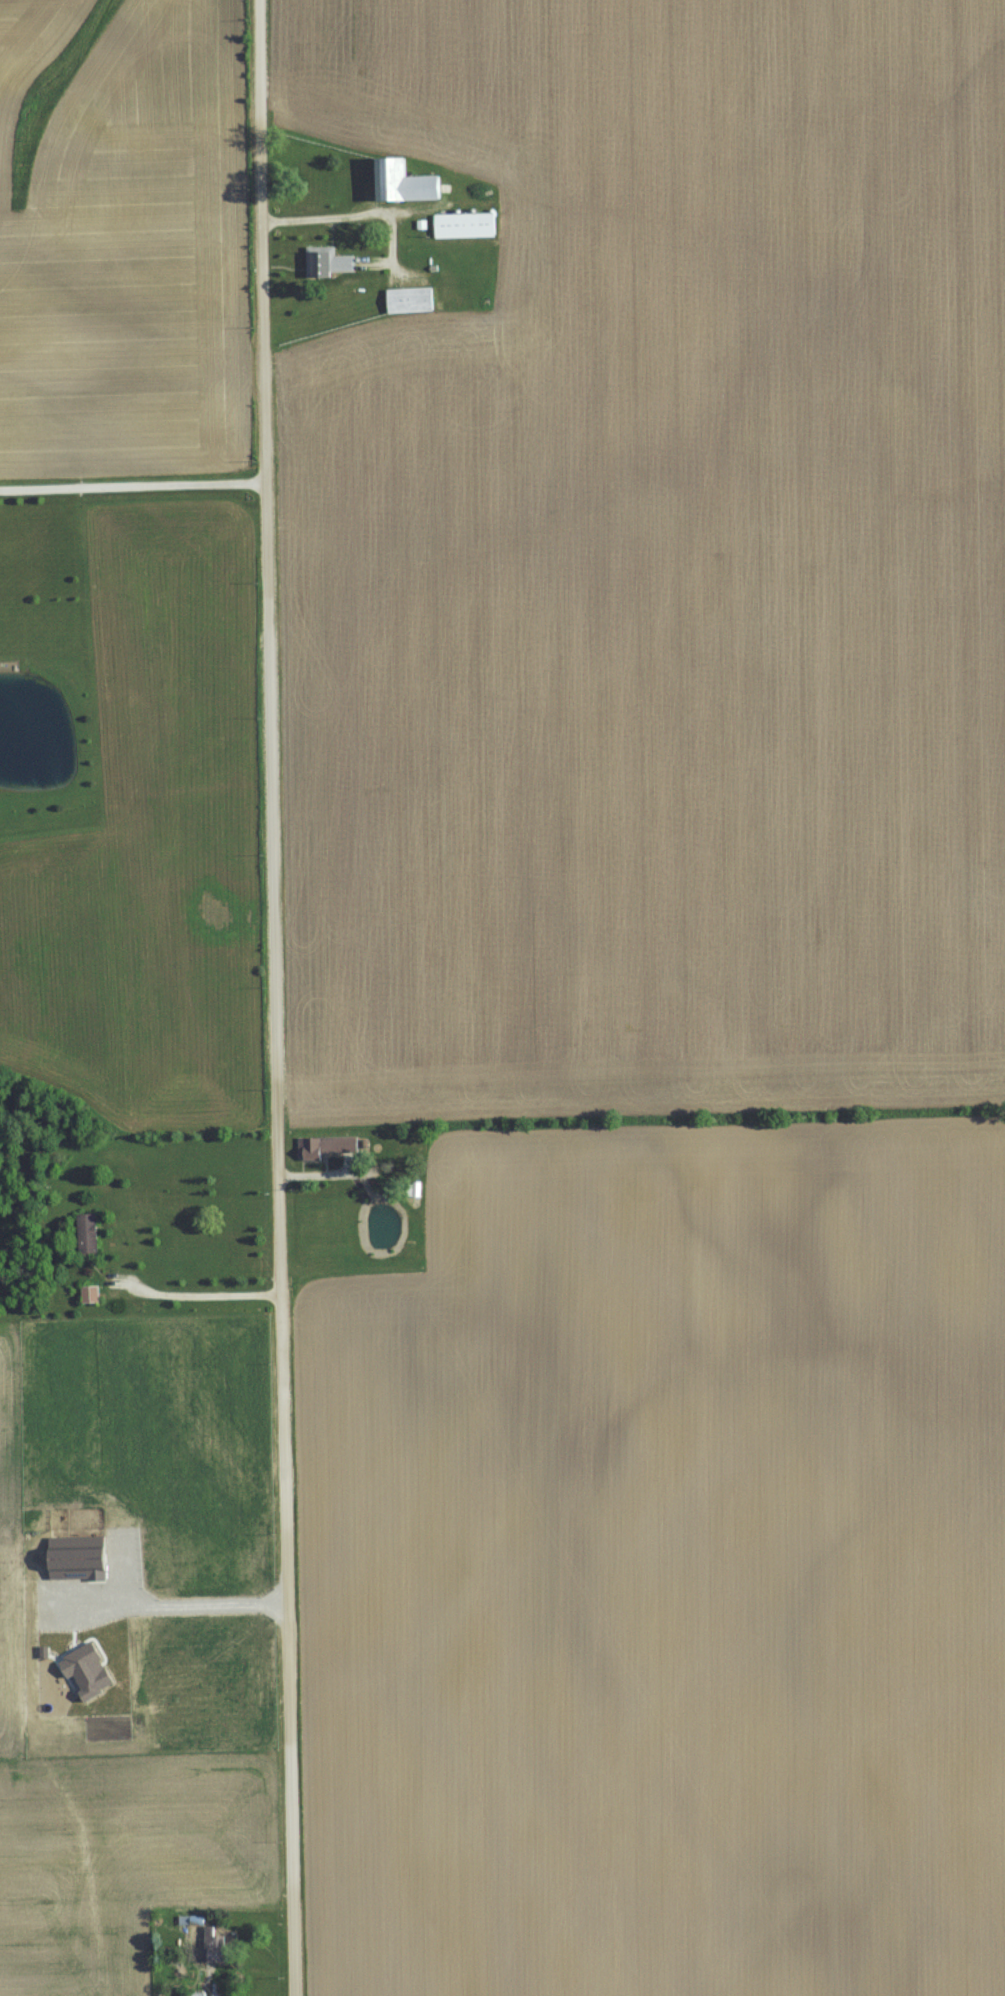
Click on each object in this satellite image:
building: (410, 183)
road: (330, 212)
building: (469, 226)
building: (334, 263)
building: (416, 300)
road: (134, 483)
road: (277, 998)
building: (331, 1146)
building: (90, 1233)
road: (203, 1288)
building: (92, 1293)
building: (220, 1946)

